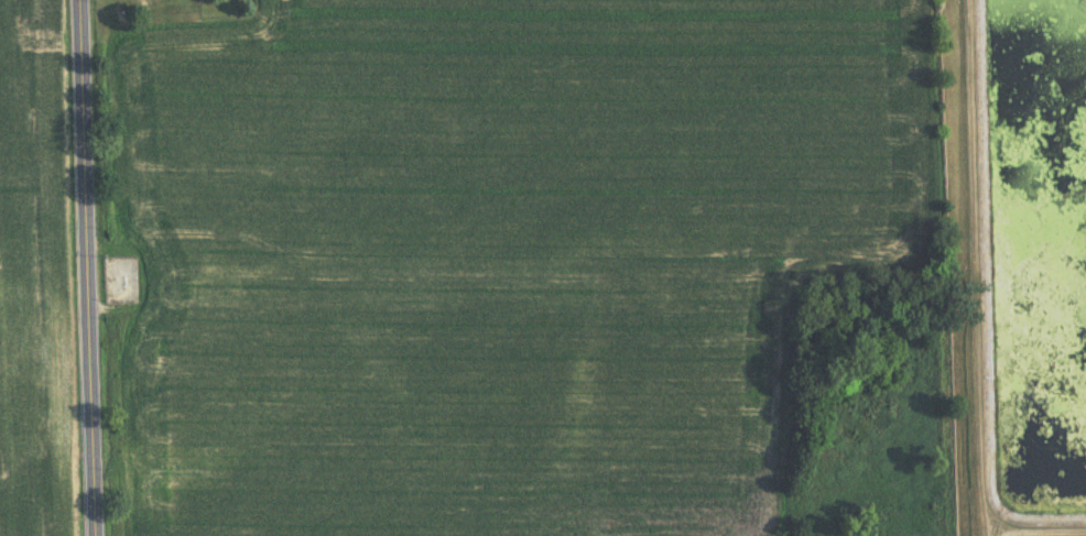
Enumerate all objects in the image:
road: (88, 267)

